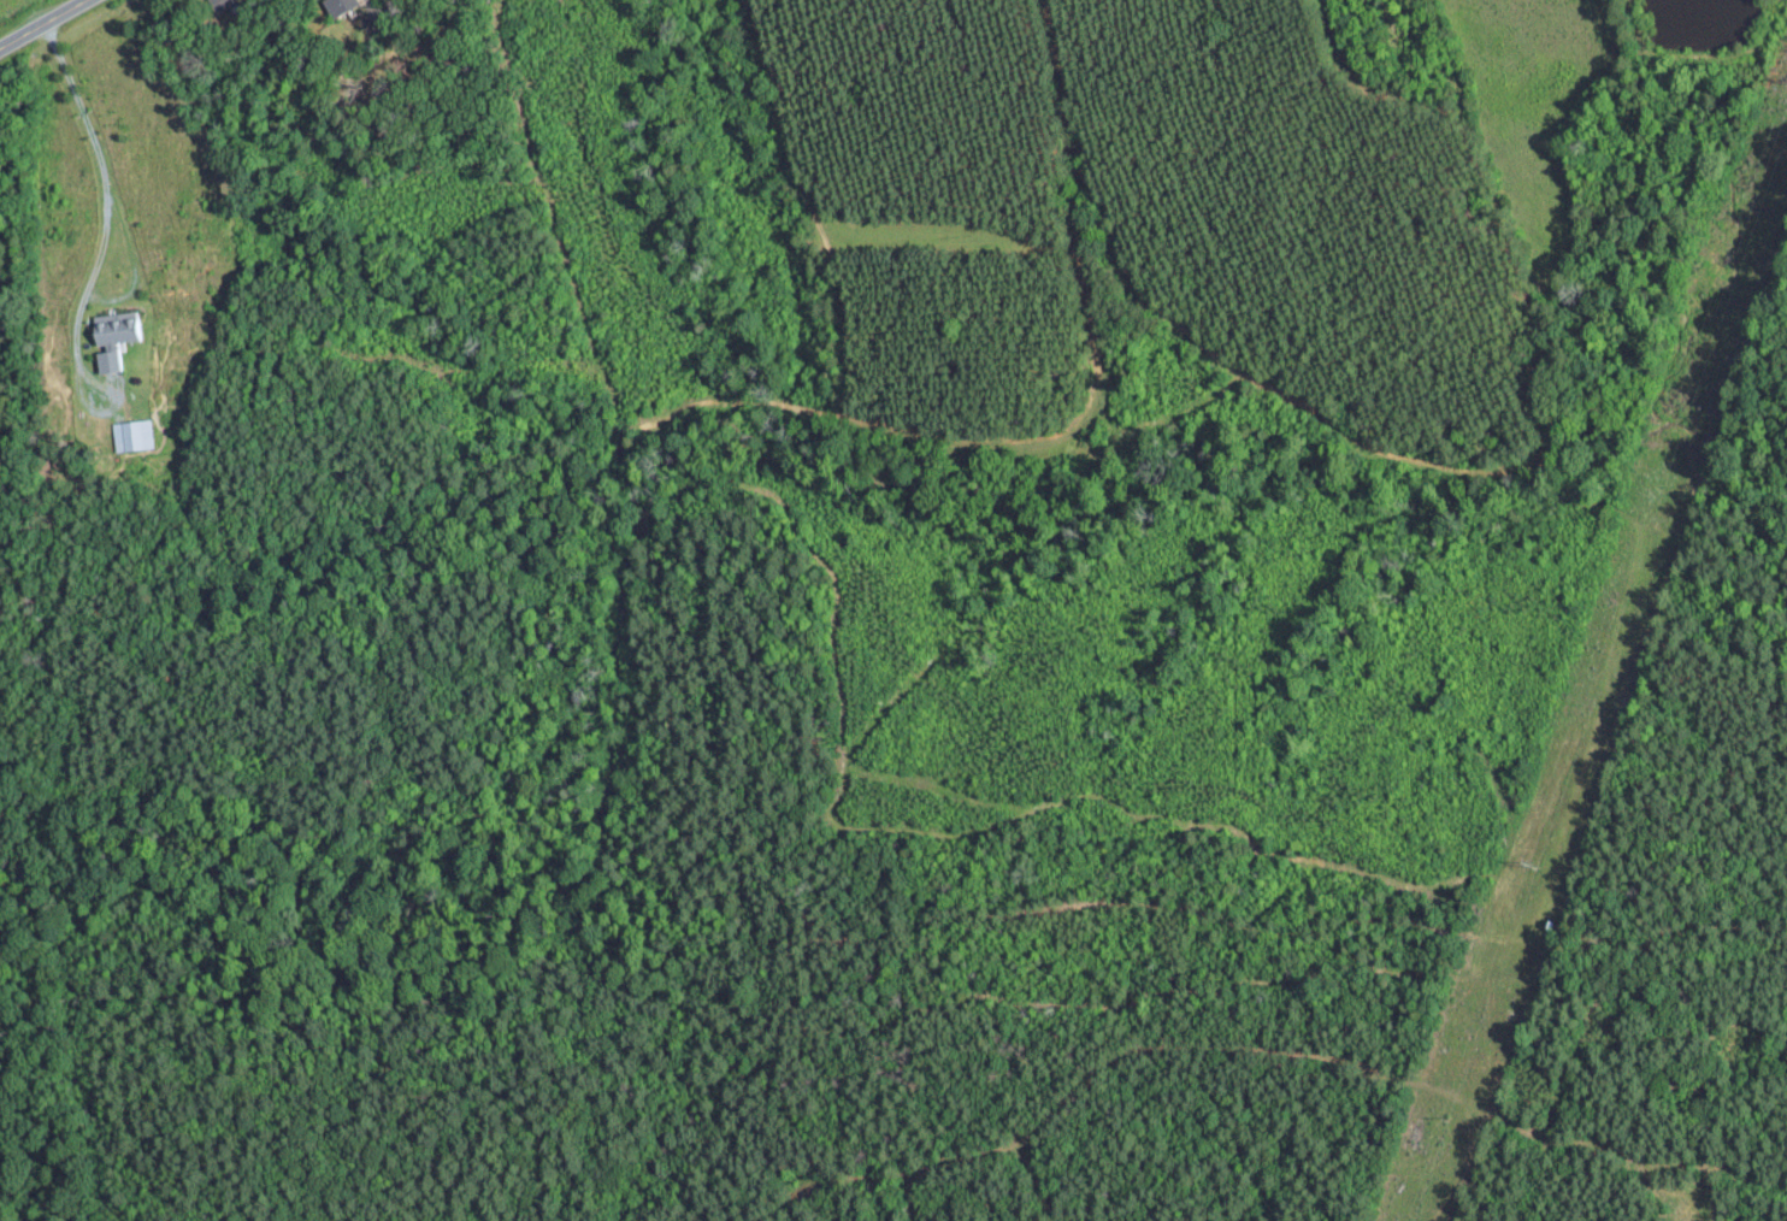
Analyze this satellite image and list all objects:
road: (42, 24)
road: (104, 190)
power tower: (1537, 863)
power tower: (1450, 1115)

